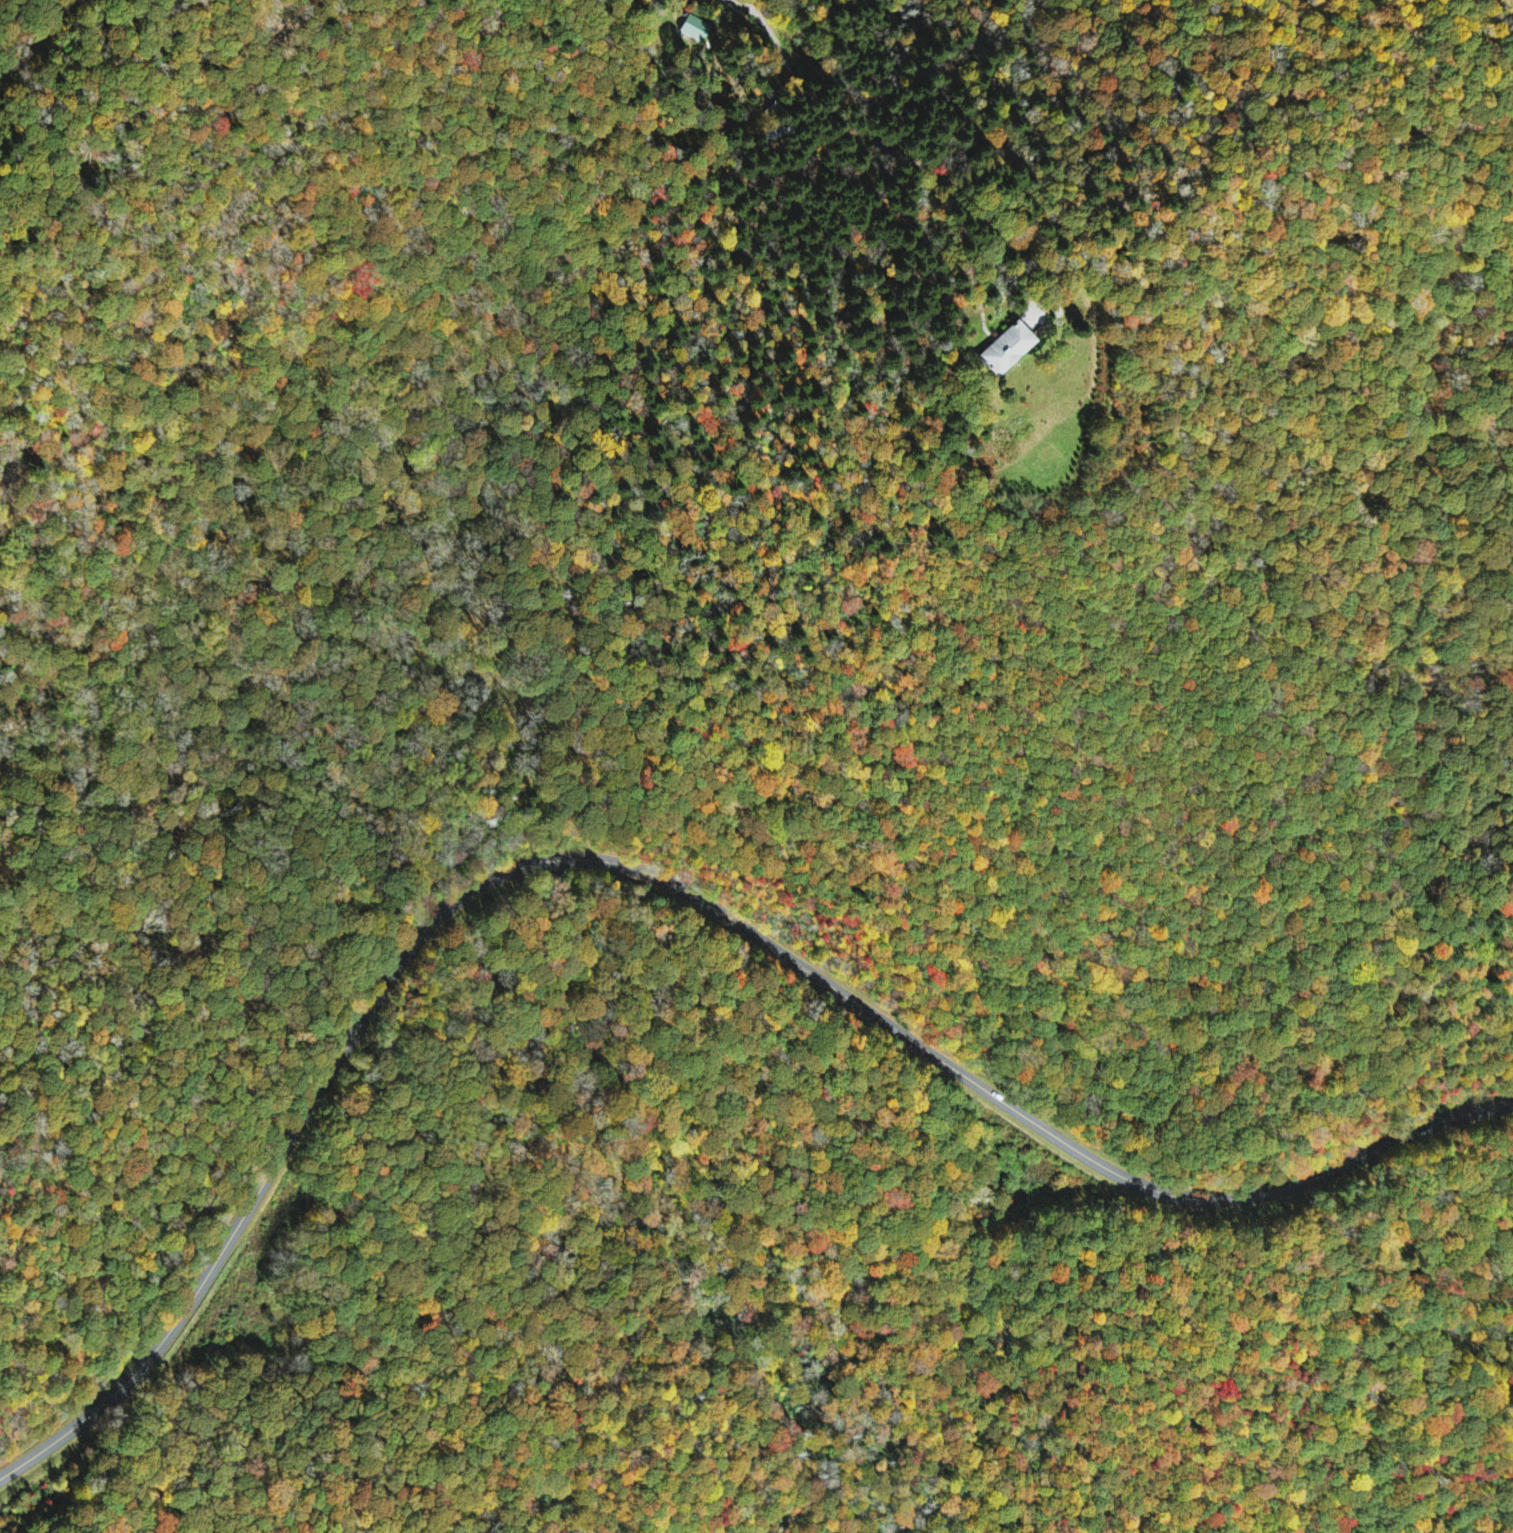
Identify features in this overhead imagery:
building: (696, 29)
building: (1015, 350)
road: (486, 683)
road: (660, 876)

